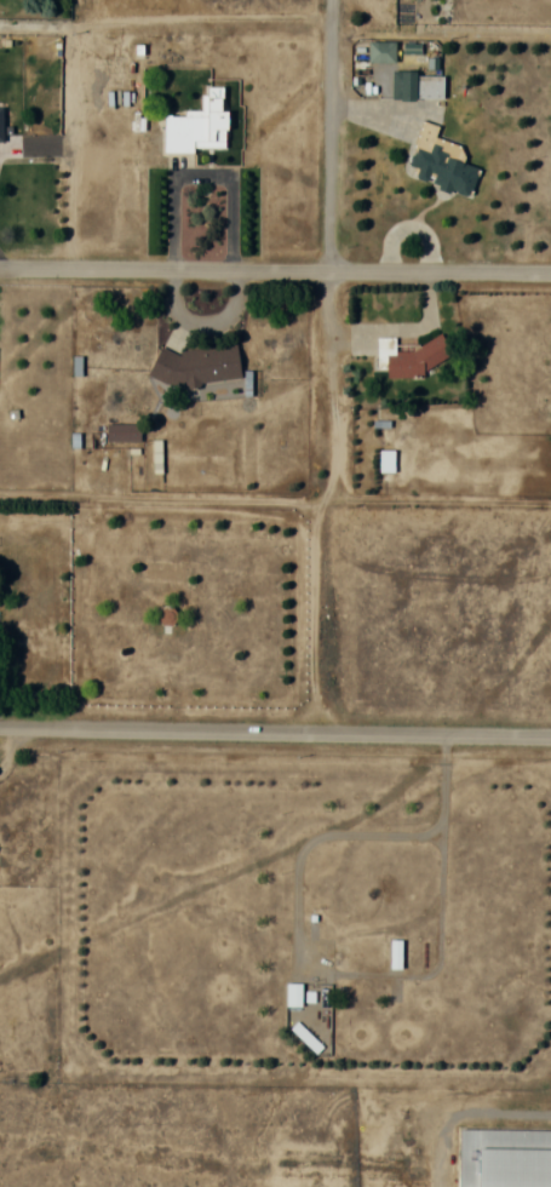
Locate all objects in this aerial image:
building: (381, 52)
building: (418, 87)
building: (199, 126)
road: (326, 134)
building: (441, 162)
road: (275, 269)
building: (411, 356)
building: (196, 365)
building: (122, 432)
building: (385, 460)
road: (157, 498)
road: (316, 500)
road: (434, 503)
road: (275, 732)
building: (305, 994)
building: (504, 1158)

